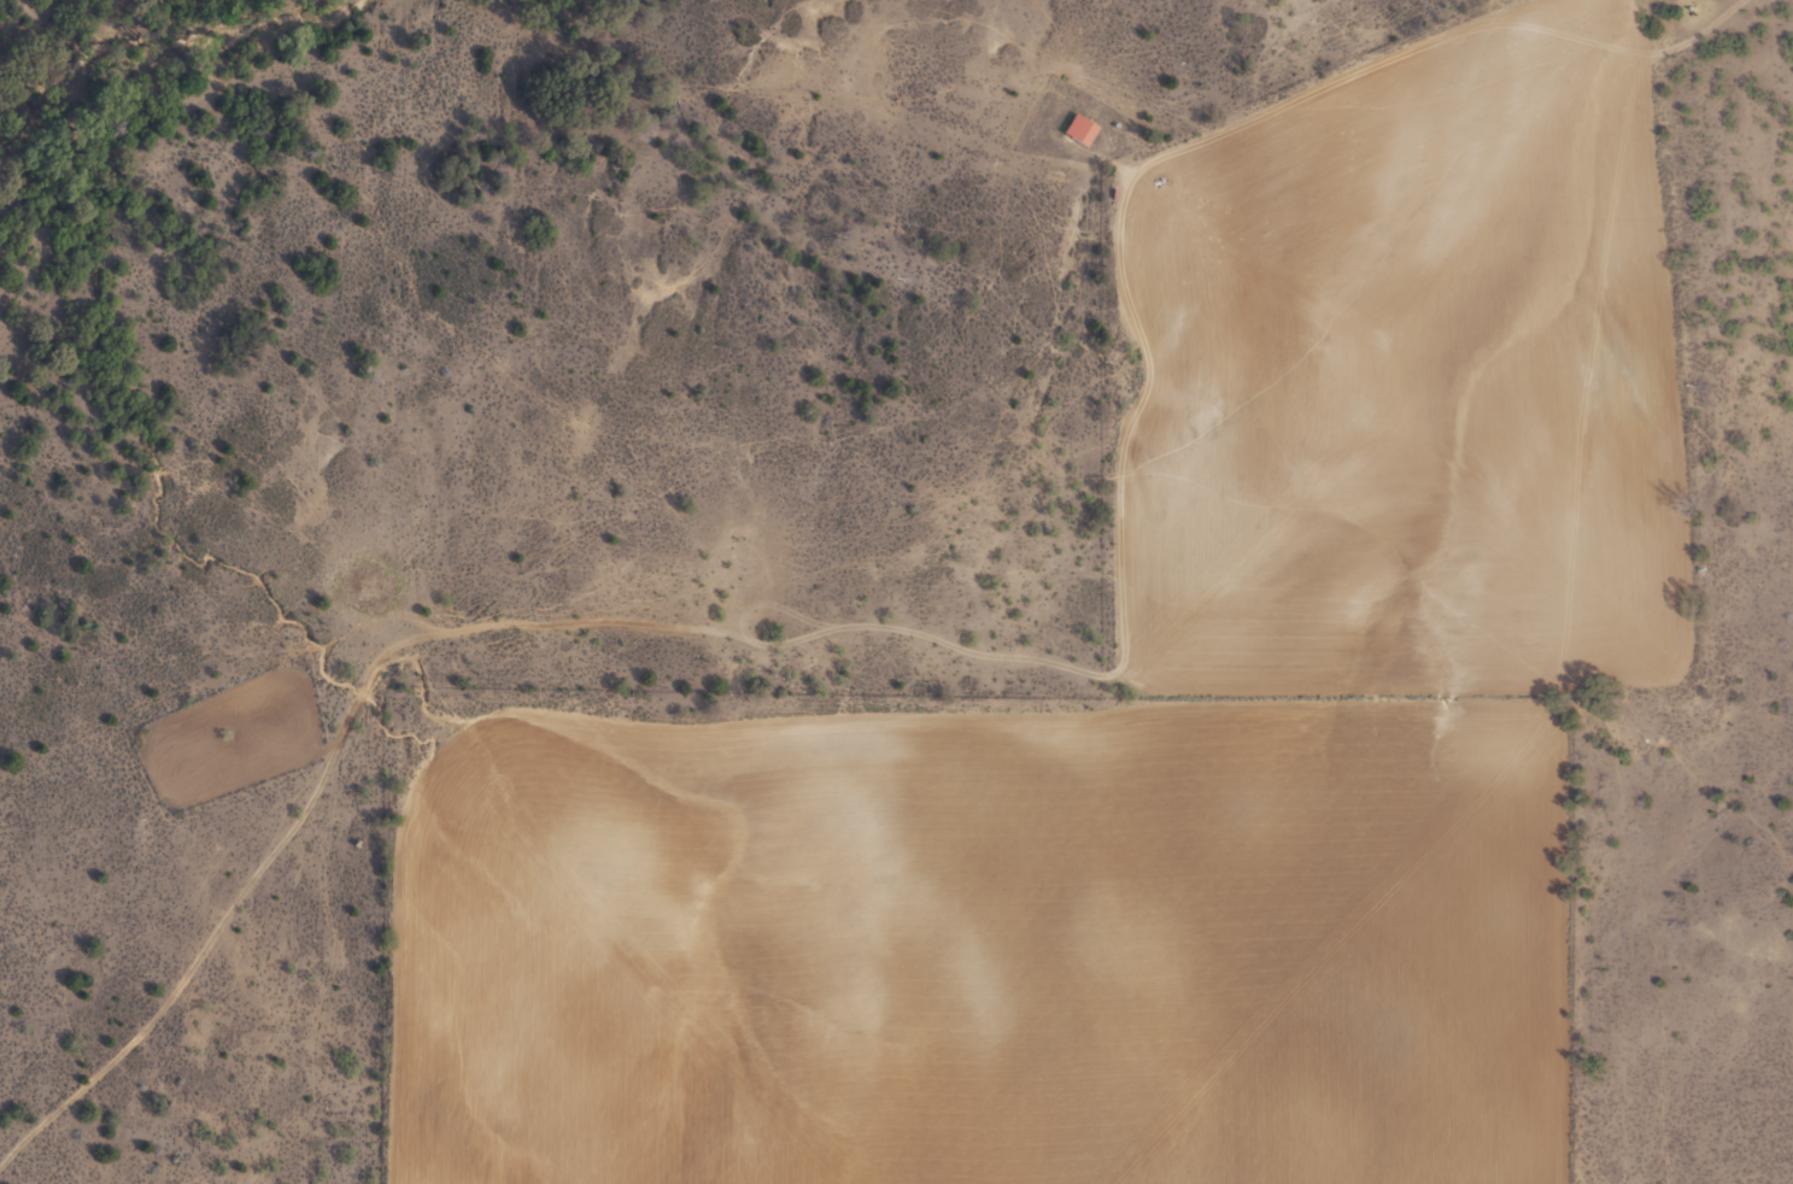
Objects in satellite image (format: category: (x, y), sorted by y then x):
crop: (896, 592)

